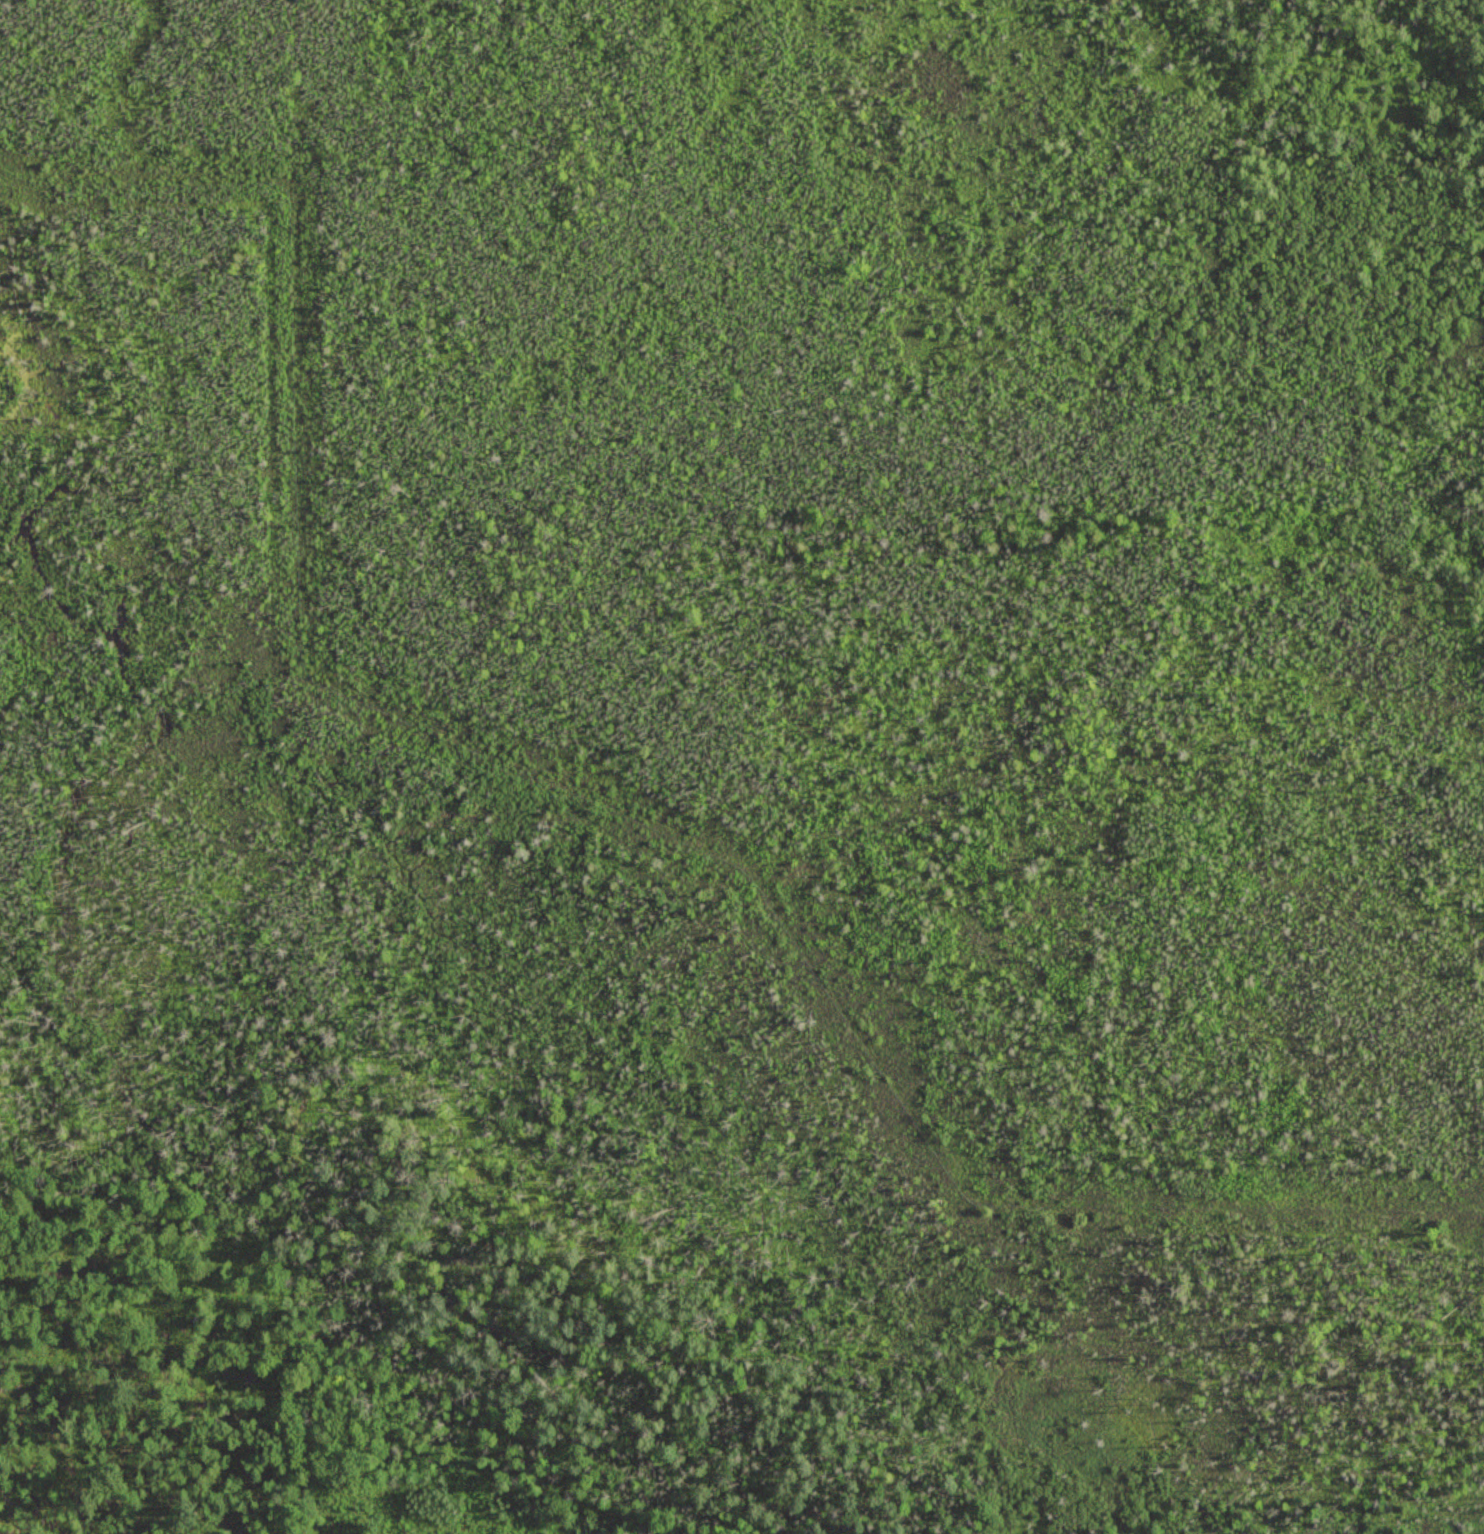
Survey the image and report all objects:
airport: (1391, 55)

